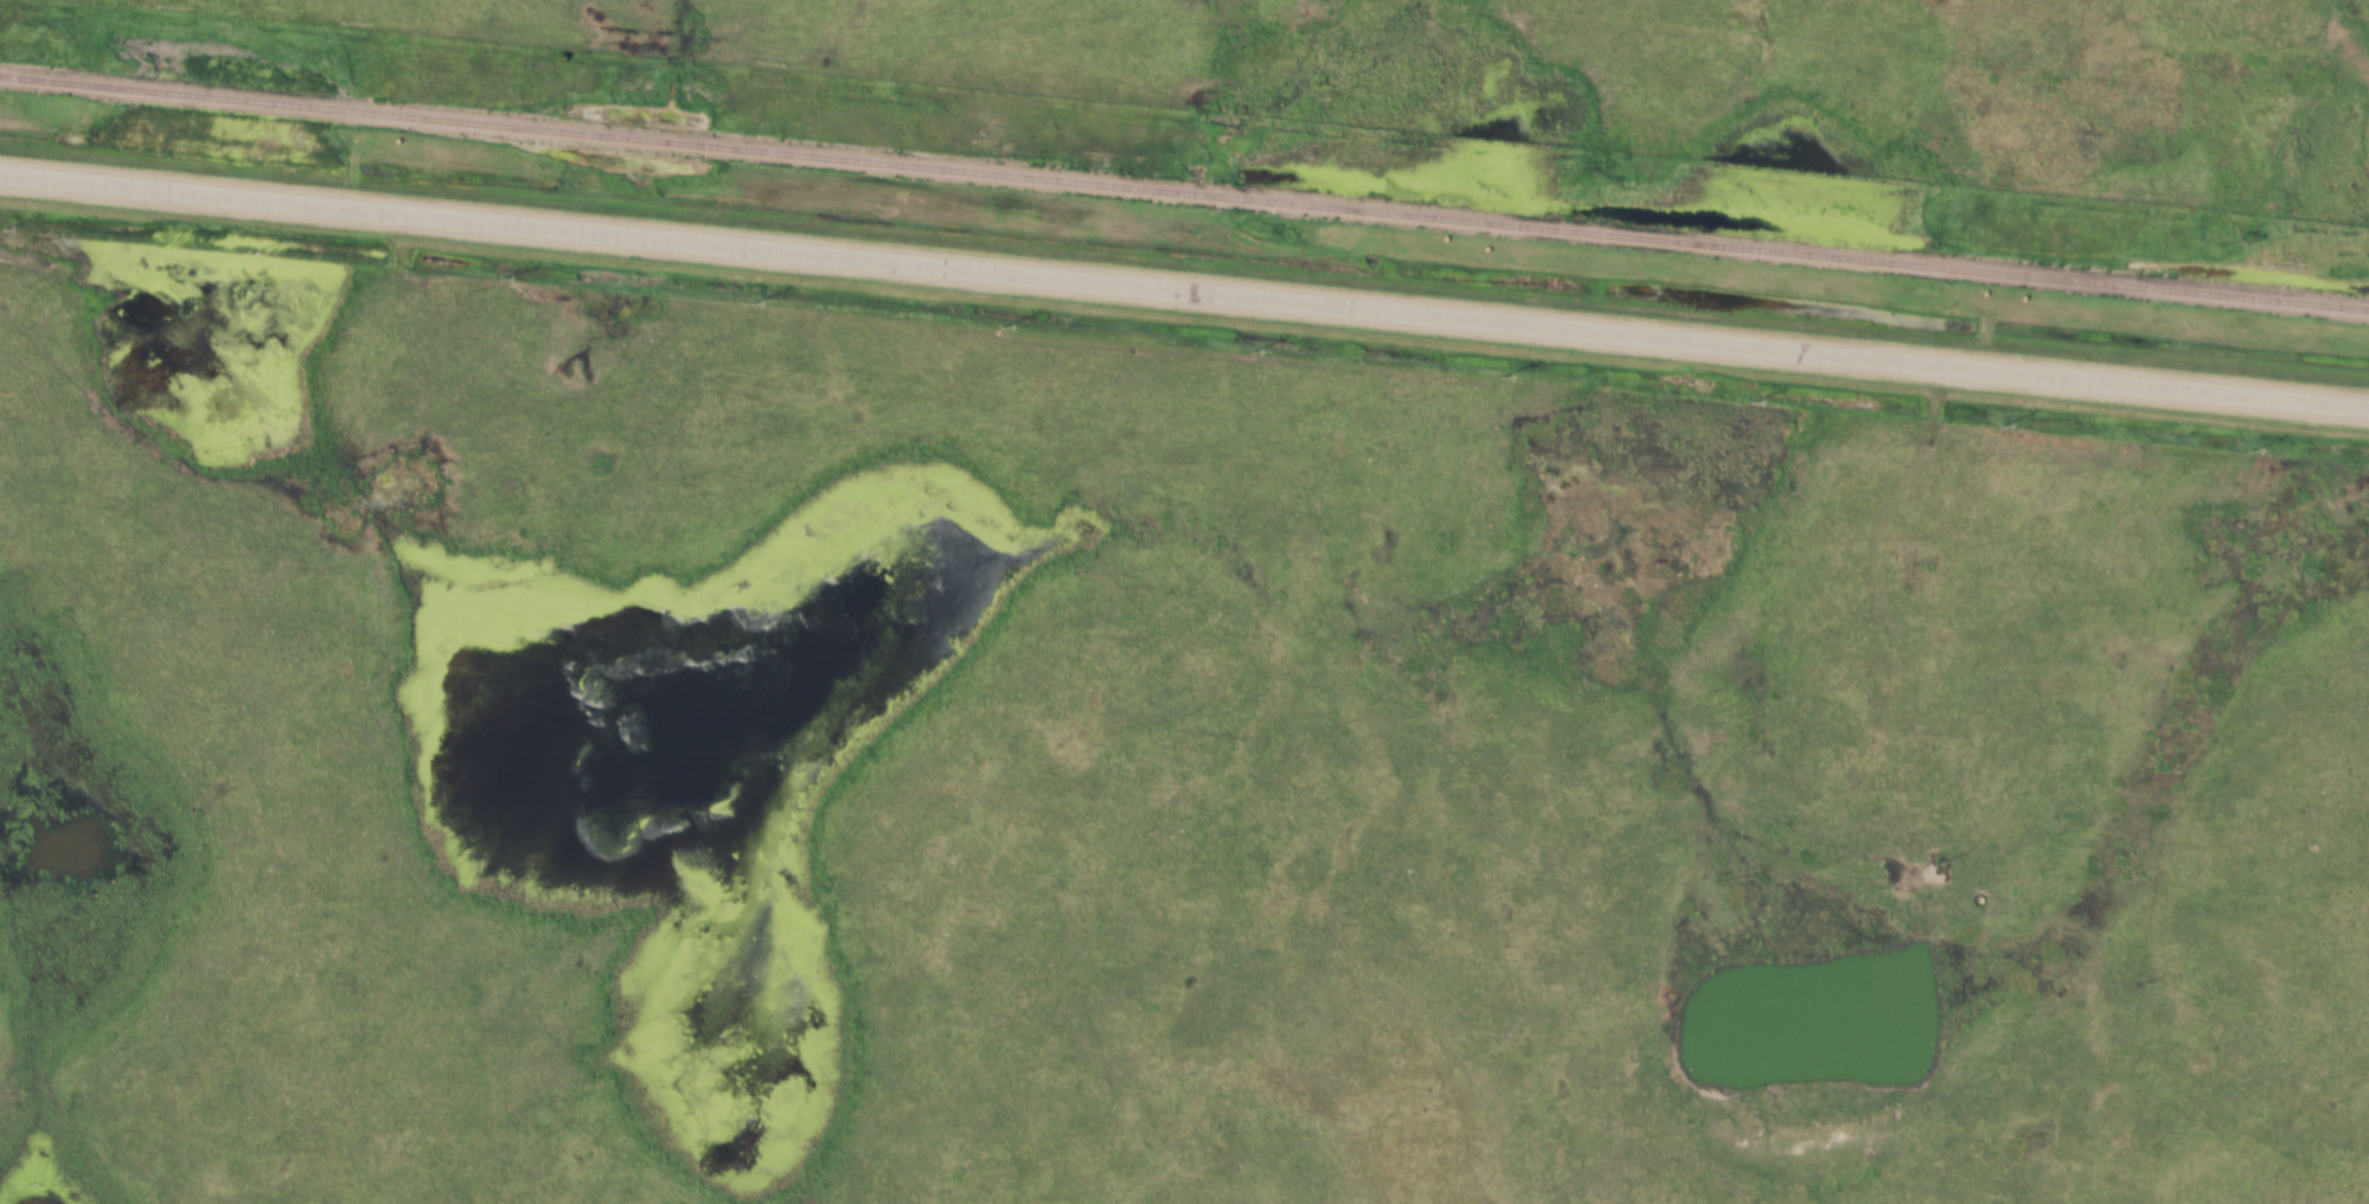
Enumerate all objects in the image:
railway: (1184, 192)
road: (1184, 290)

